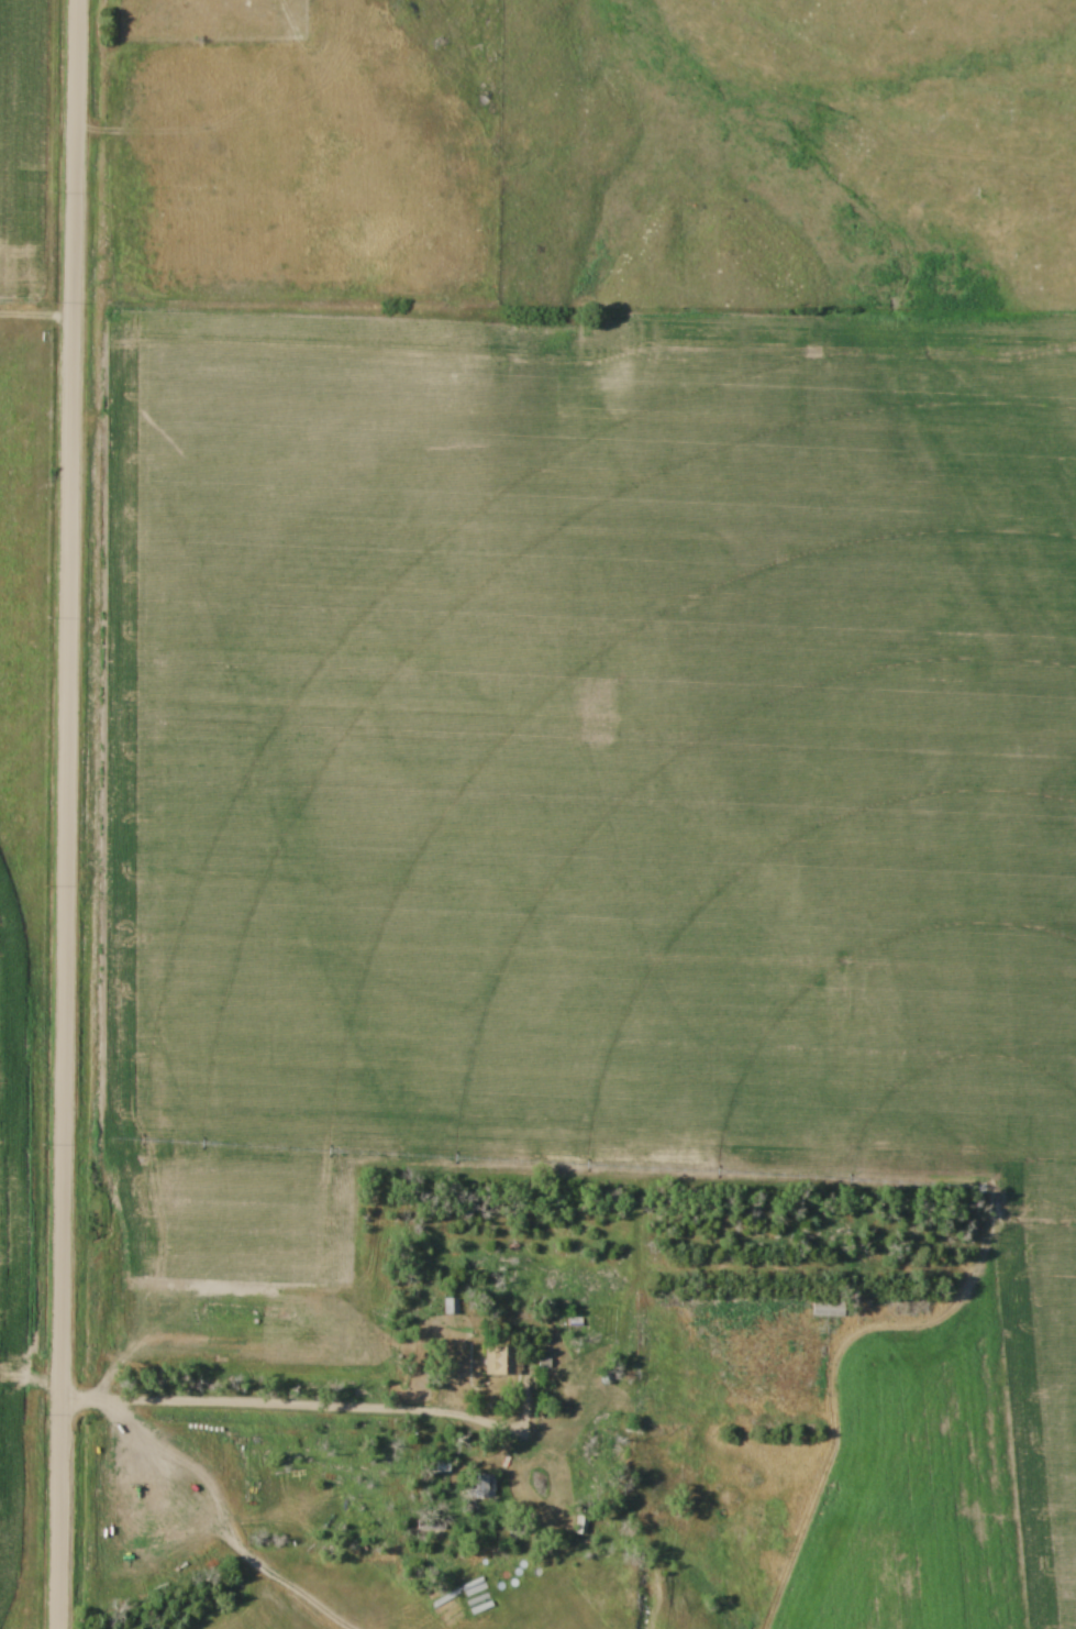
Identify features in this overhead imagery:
road: (68, 814)
building: (451, 1306)
building: (830, 1308)
building: (500, 1363)
road: (313, 1404)
building: (484, 1487)
building: (580, 1525)

